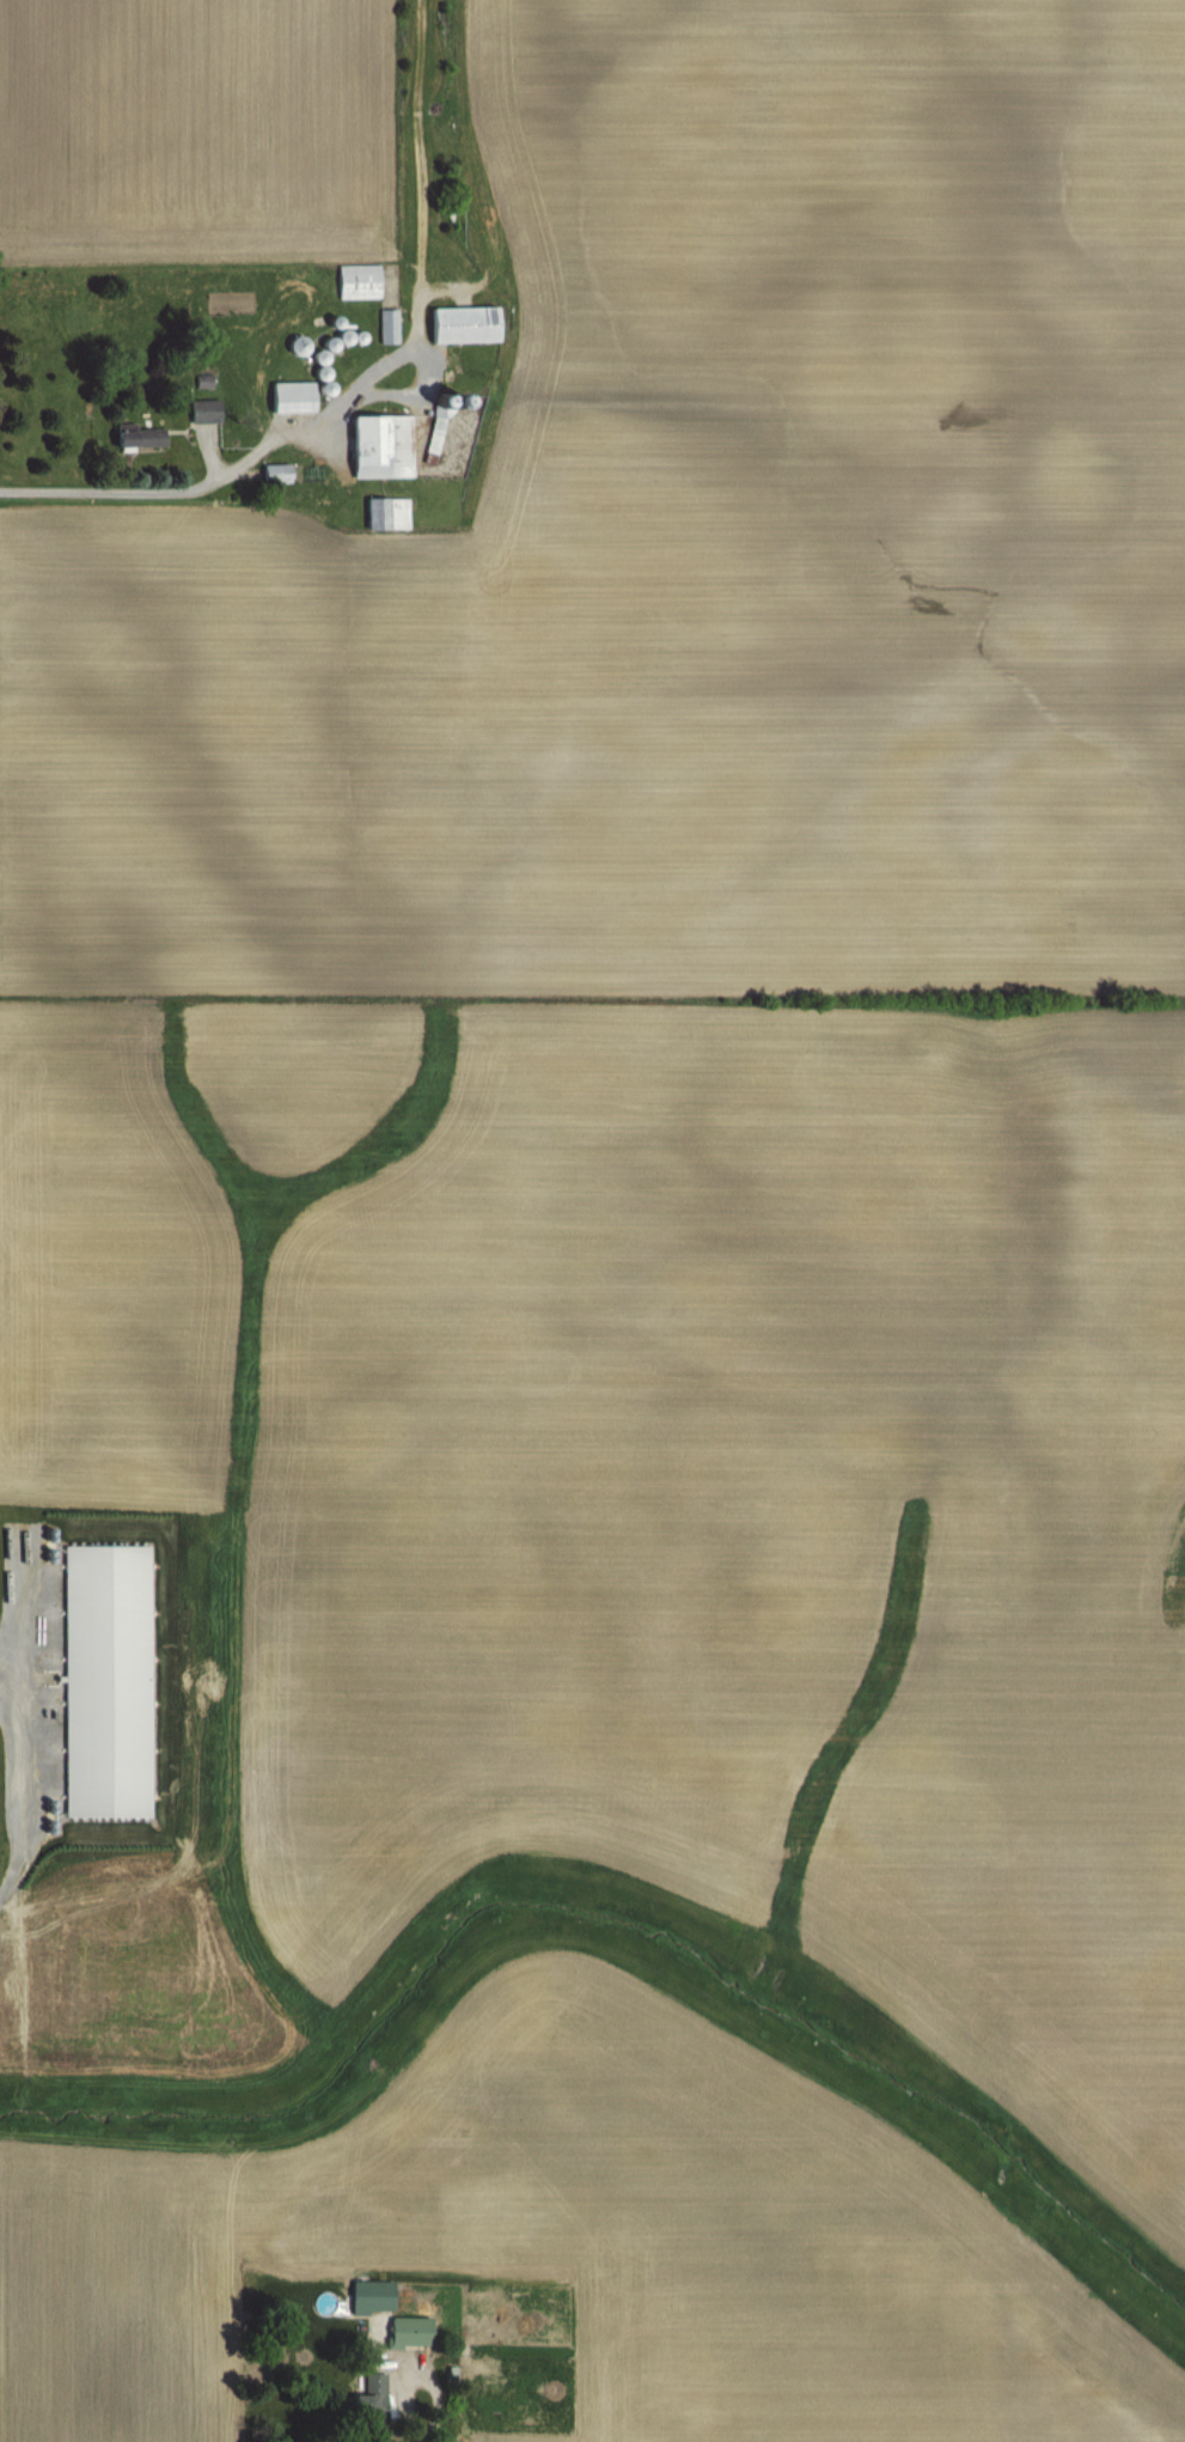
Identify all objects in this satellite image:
building: (355, 282)
building: (460, 325)
building: (293, 345)
building: (289, 397)
building: (201, 410)
building: (134, 437)
building: (377, 446)
building: (273, 474)
road: (181, 491)
building: (384, 513)
crop: (594, 1208)
road: (20, 1600)
road: (20, 1768)
building: (407, 2333)
road: (410, 2405)
building: (368, 2406)

